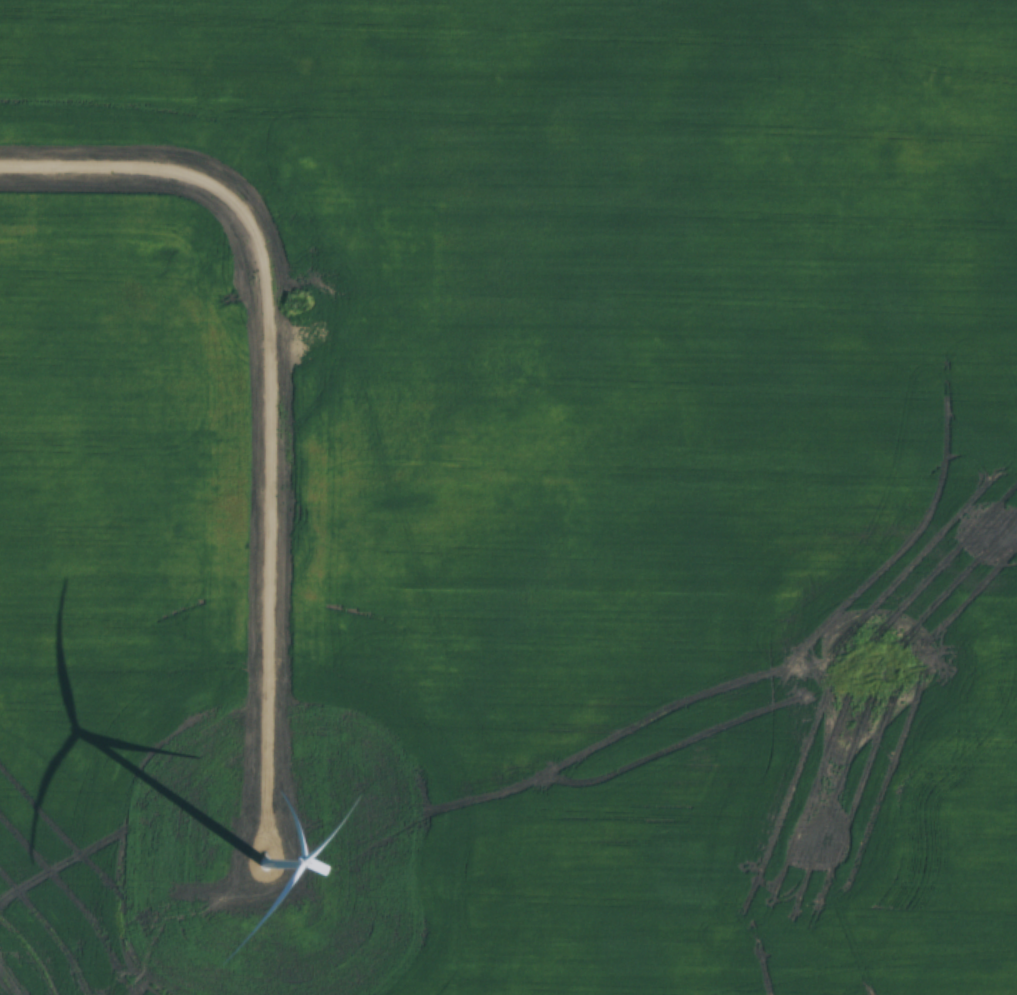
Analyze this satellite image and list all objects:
wind turbine: (265, 863)

